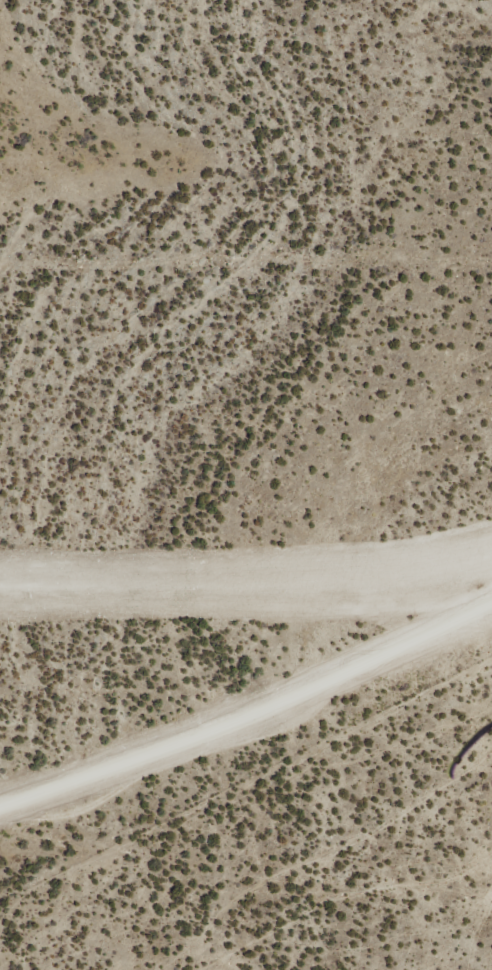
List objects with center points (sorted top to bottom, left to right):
road: (129, 885)

